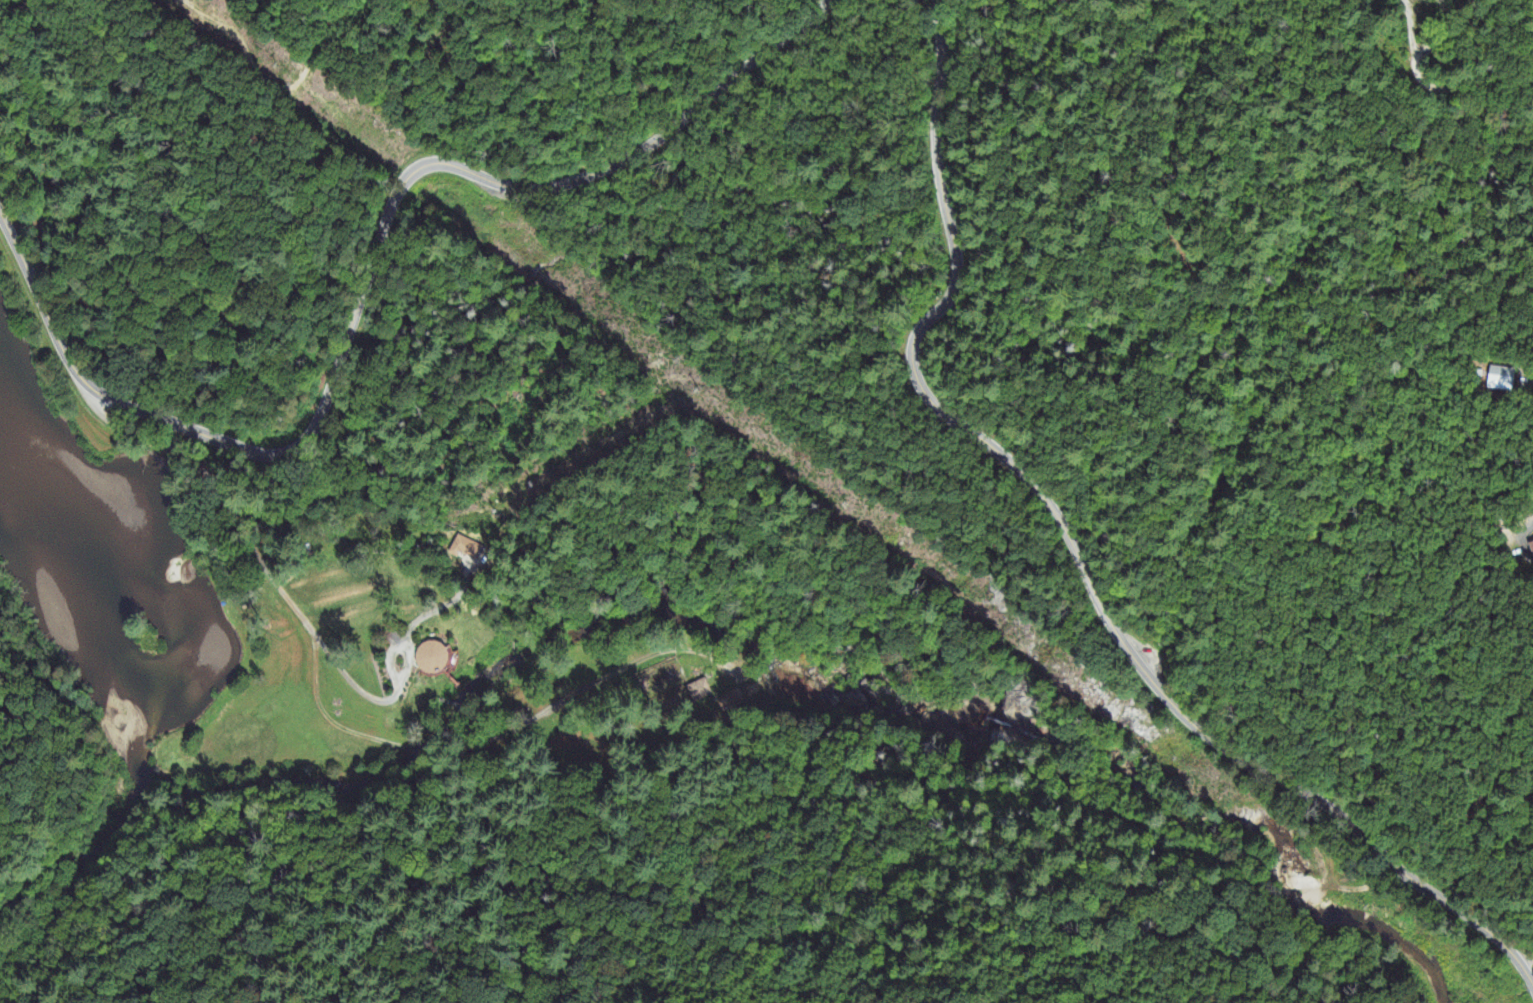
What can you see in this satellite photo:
road: (1434, 89)
road: (366, 280)
building: (1480, 373)
building: (1502, 377)
building: (1531, 544)
building: (464, 549)
road: (1077, 554)
building: (430, 658)
building: (698, 691)
building: (728, 702)

